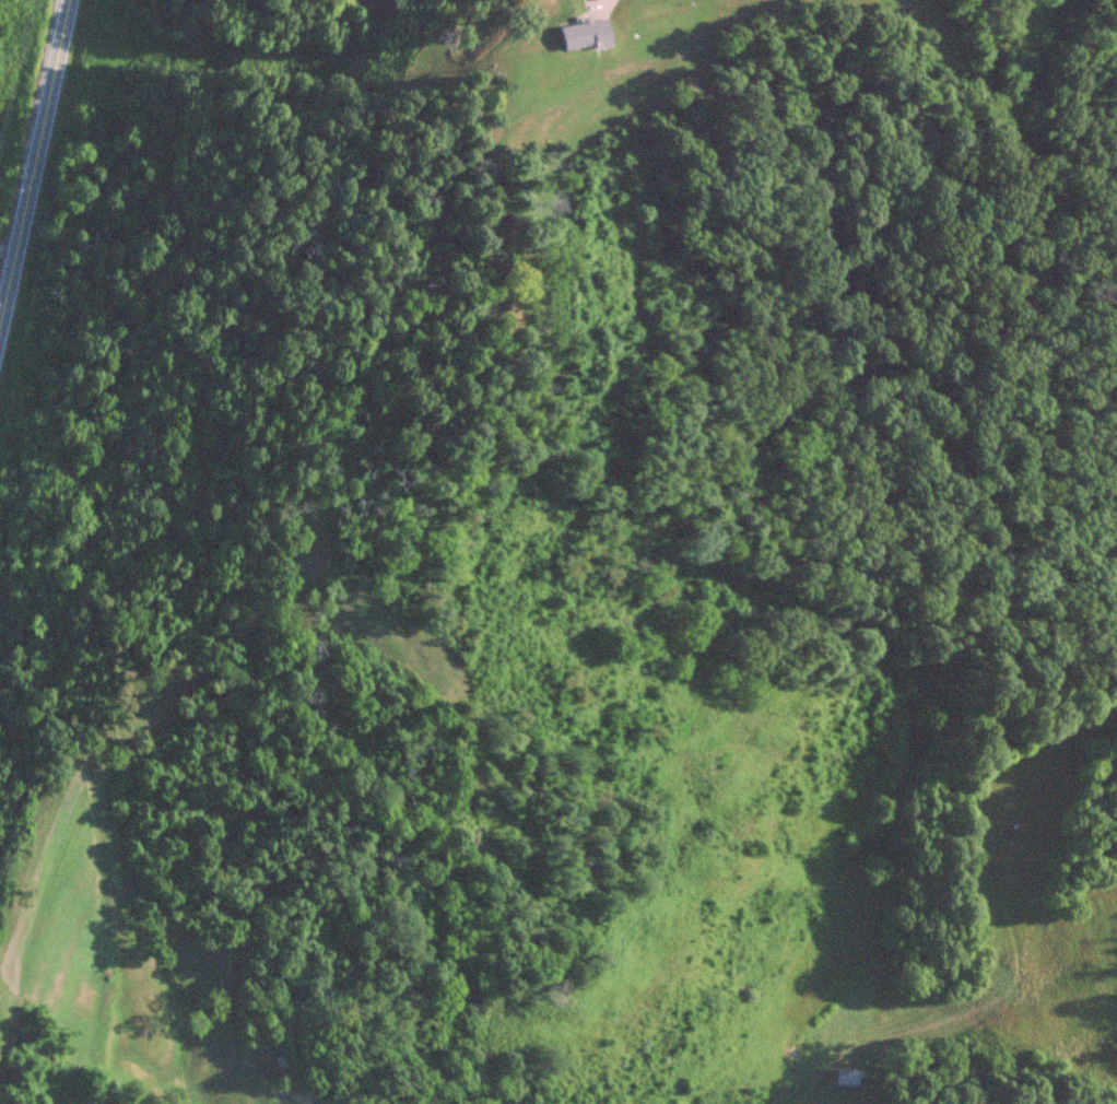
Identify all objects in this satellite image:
road: (32, 152)

